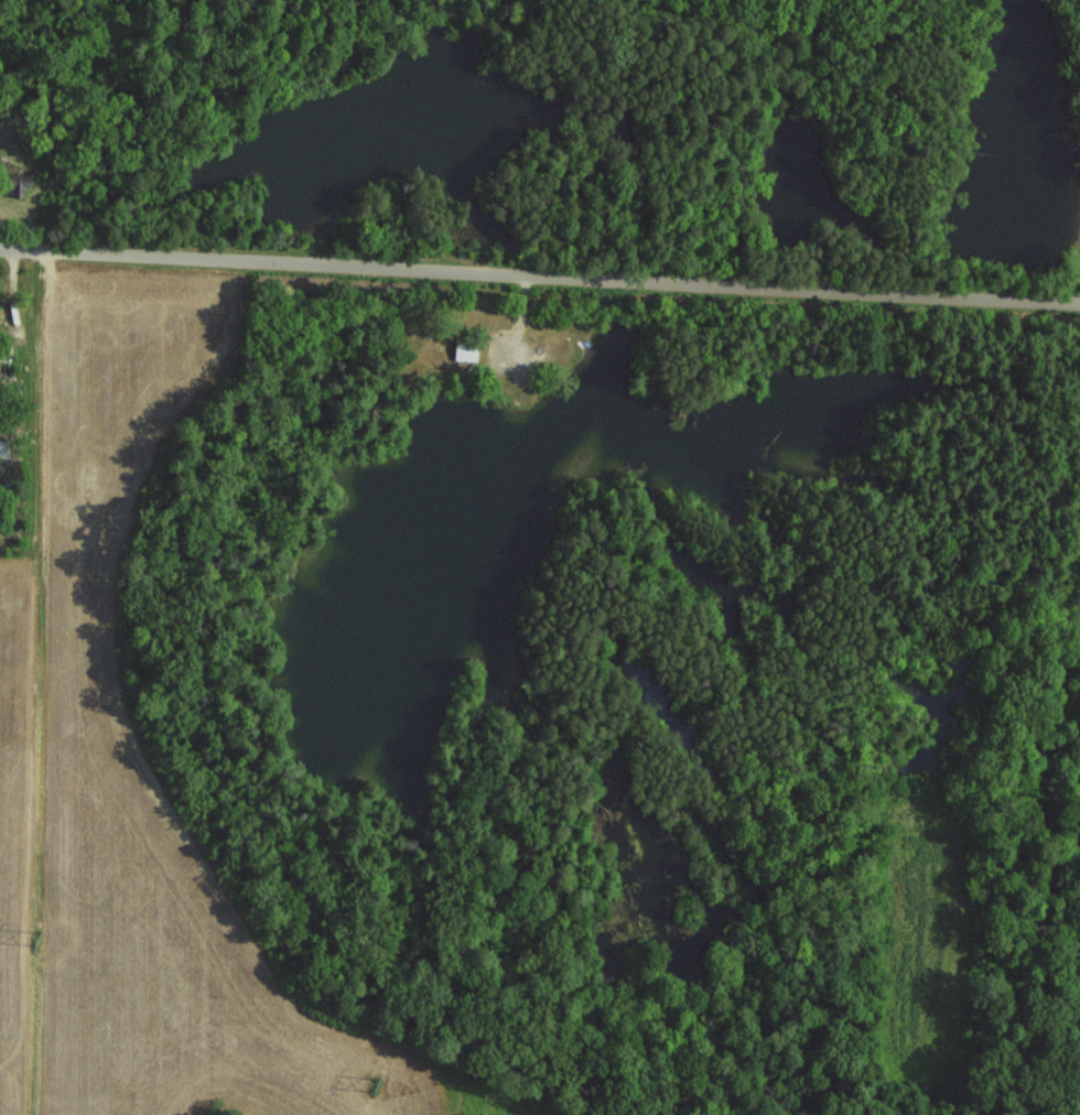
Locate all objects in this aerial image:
building: (13, 184)
road: (540, 272)
building: (462, 351)
building: (0, 448)
power tower: (35, 934)
power tower: (372, 1082)

